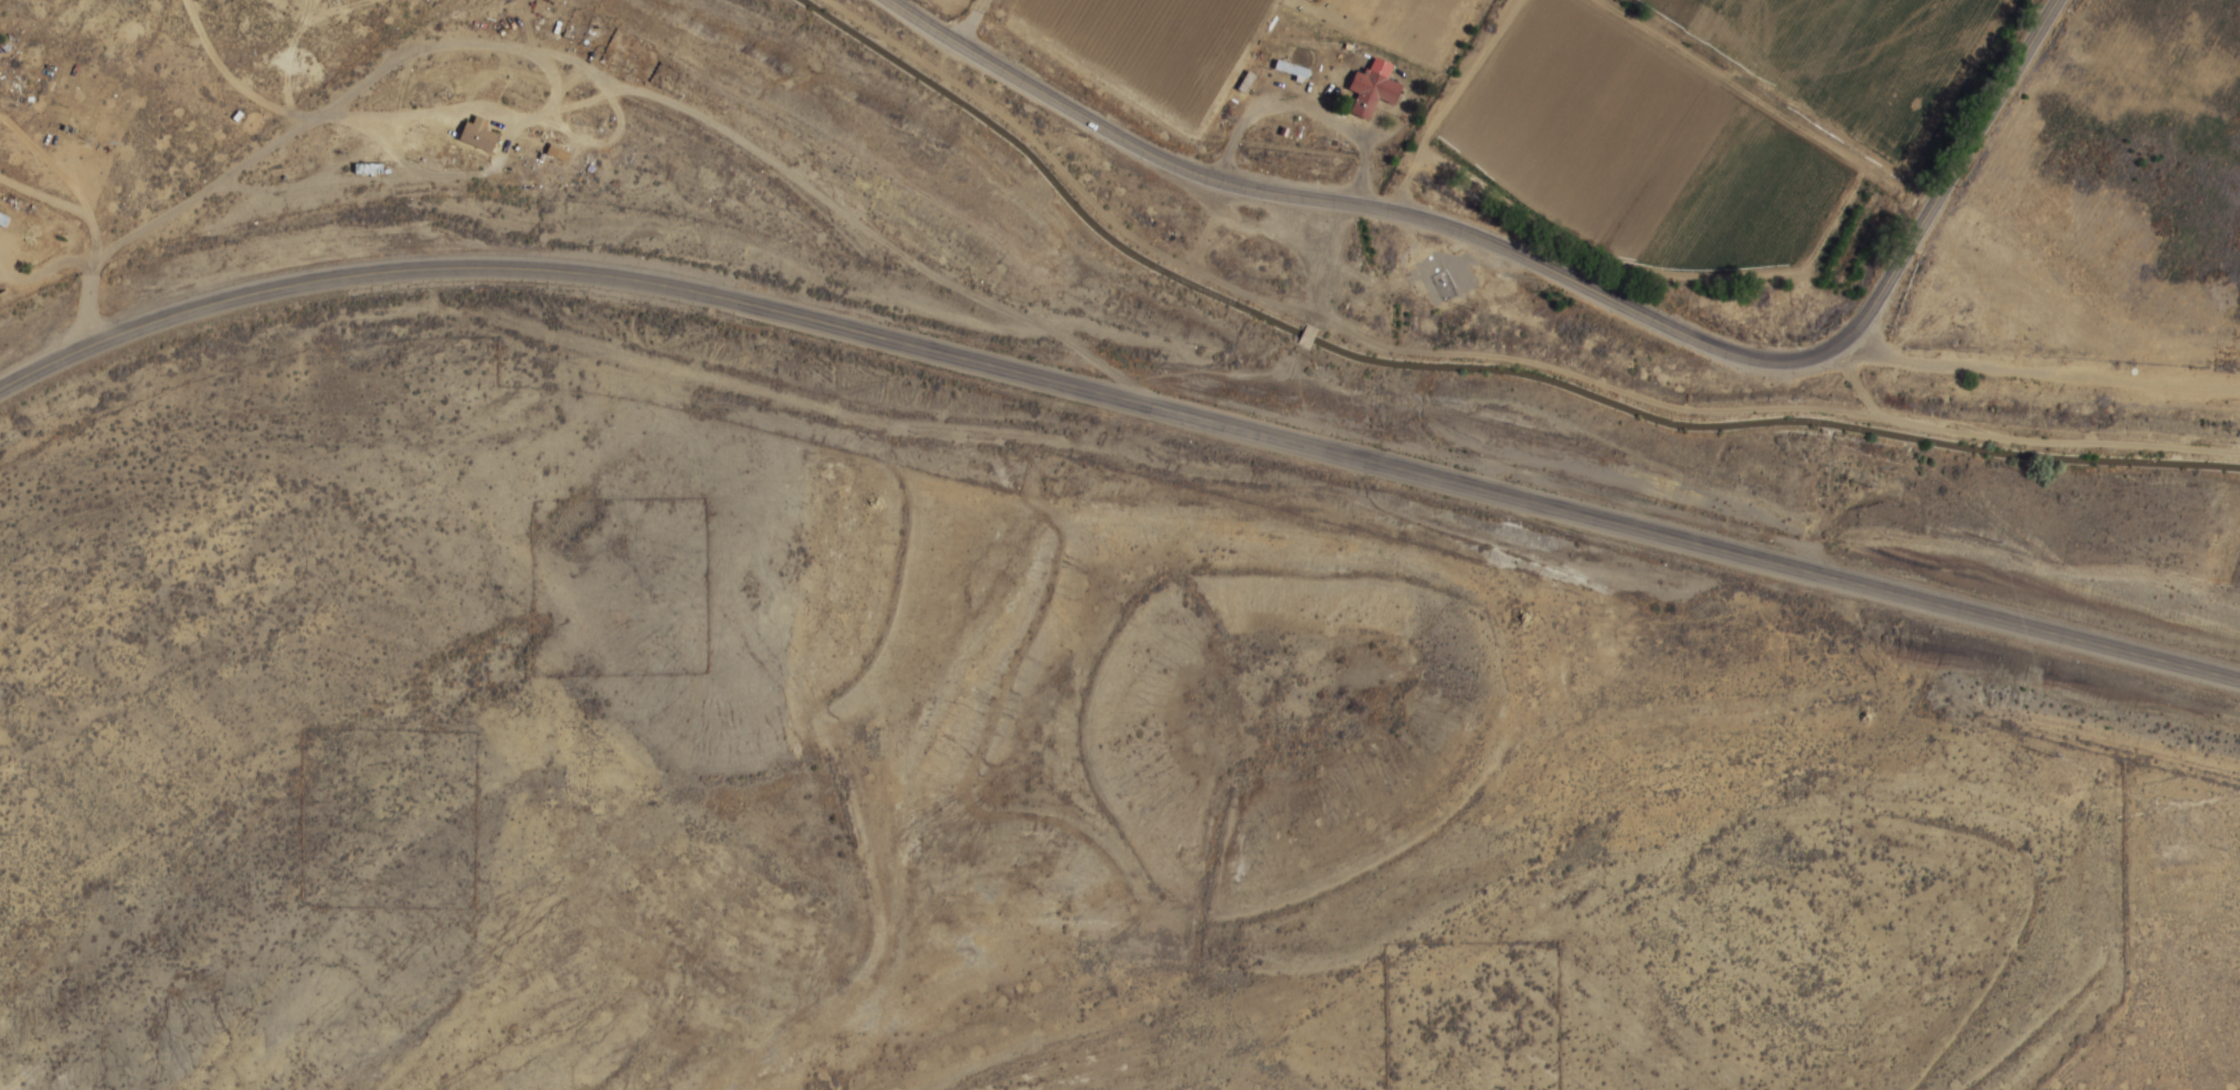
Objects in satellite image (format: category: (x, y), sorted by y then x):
road: (968, 21)
building: (1291, 68)
building: (1245, 82)
building: (1373, 88)
building: (70, 119)
building: (478, 136)
building: (369, 169)
road: (216, 177)
road: (1550, 266)
building: (1445, 284)
road: (2039, 367)
road: (1119, 405)

